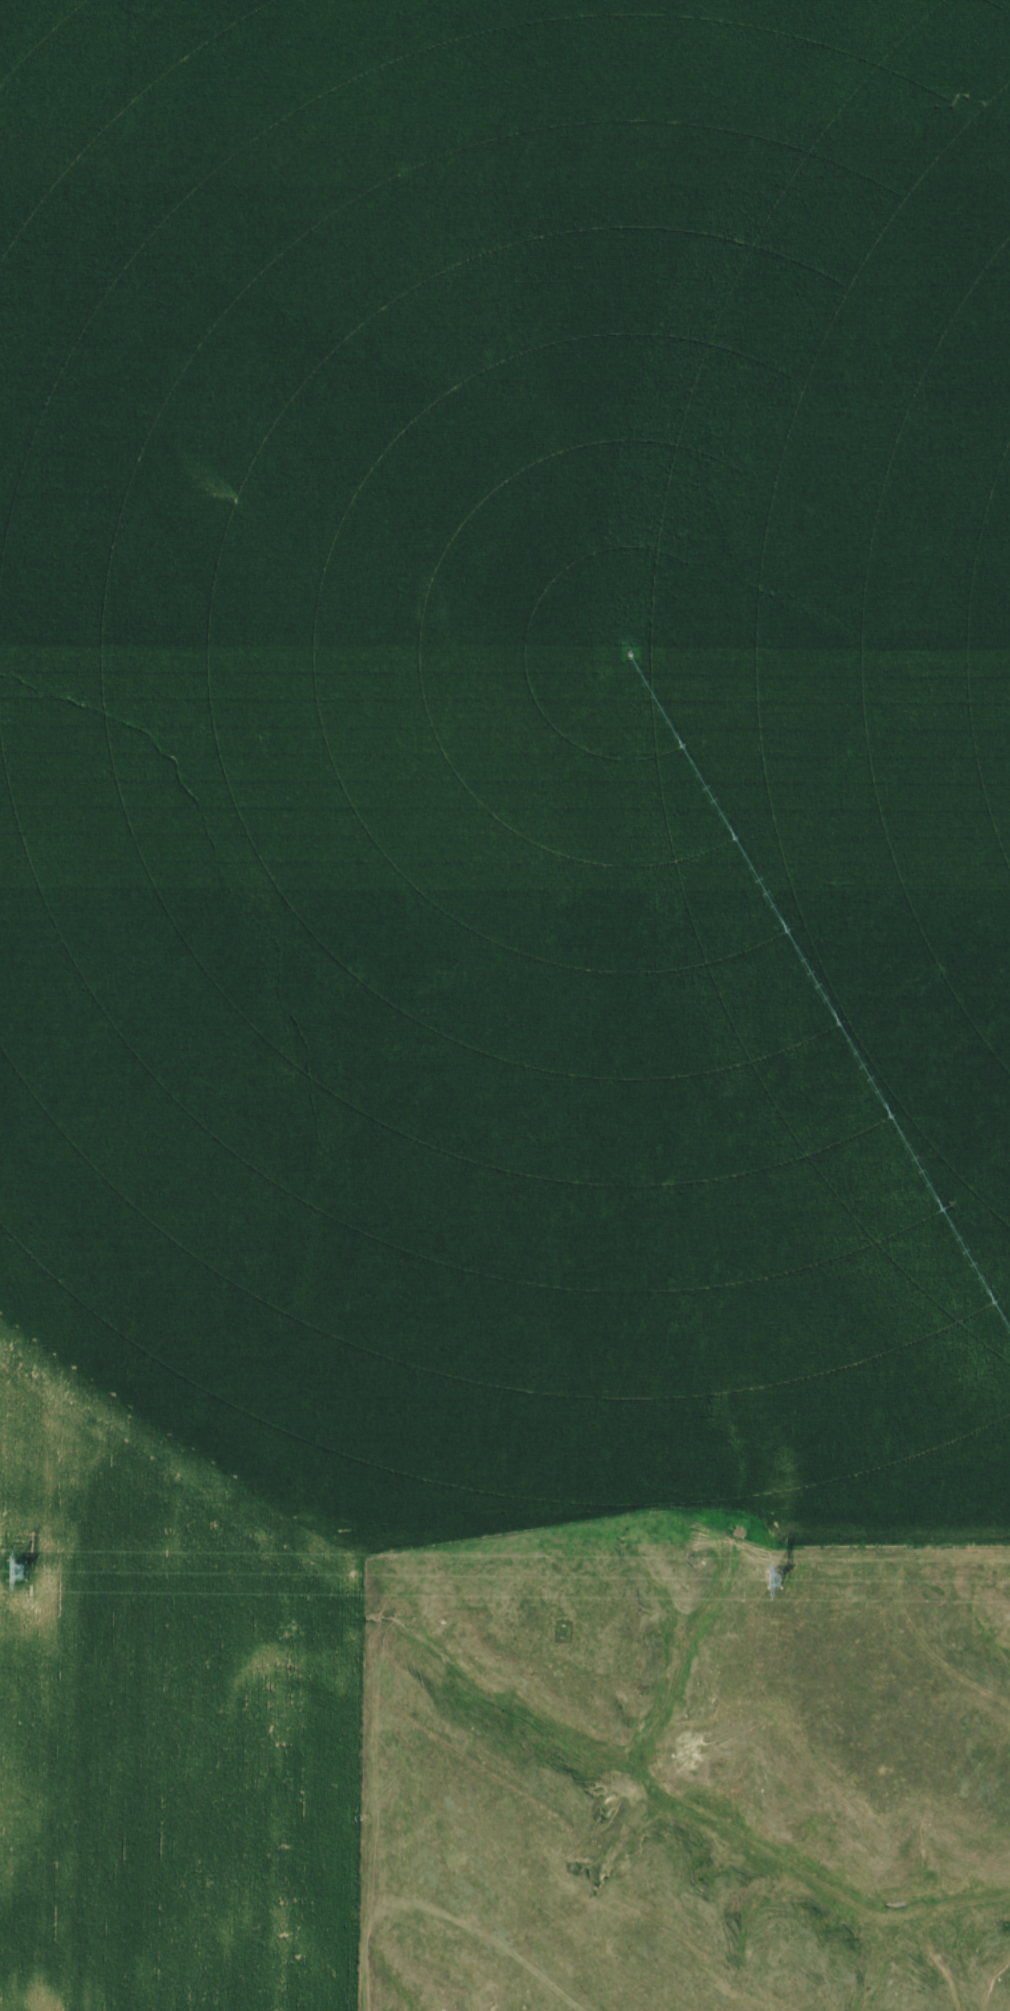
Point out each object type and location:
building: (999, 1170)
power tower: (14, 1572)
power tower: (770, 1580)

